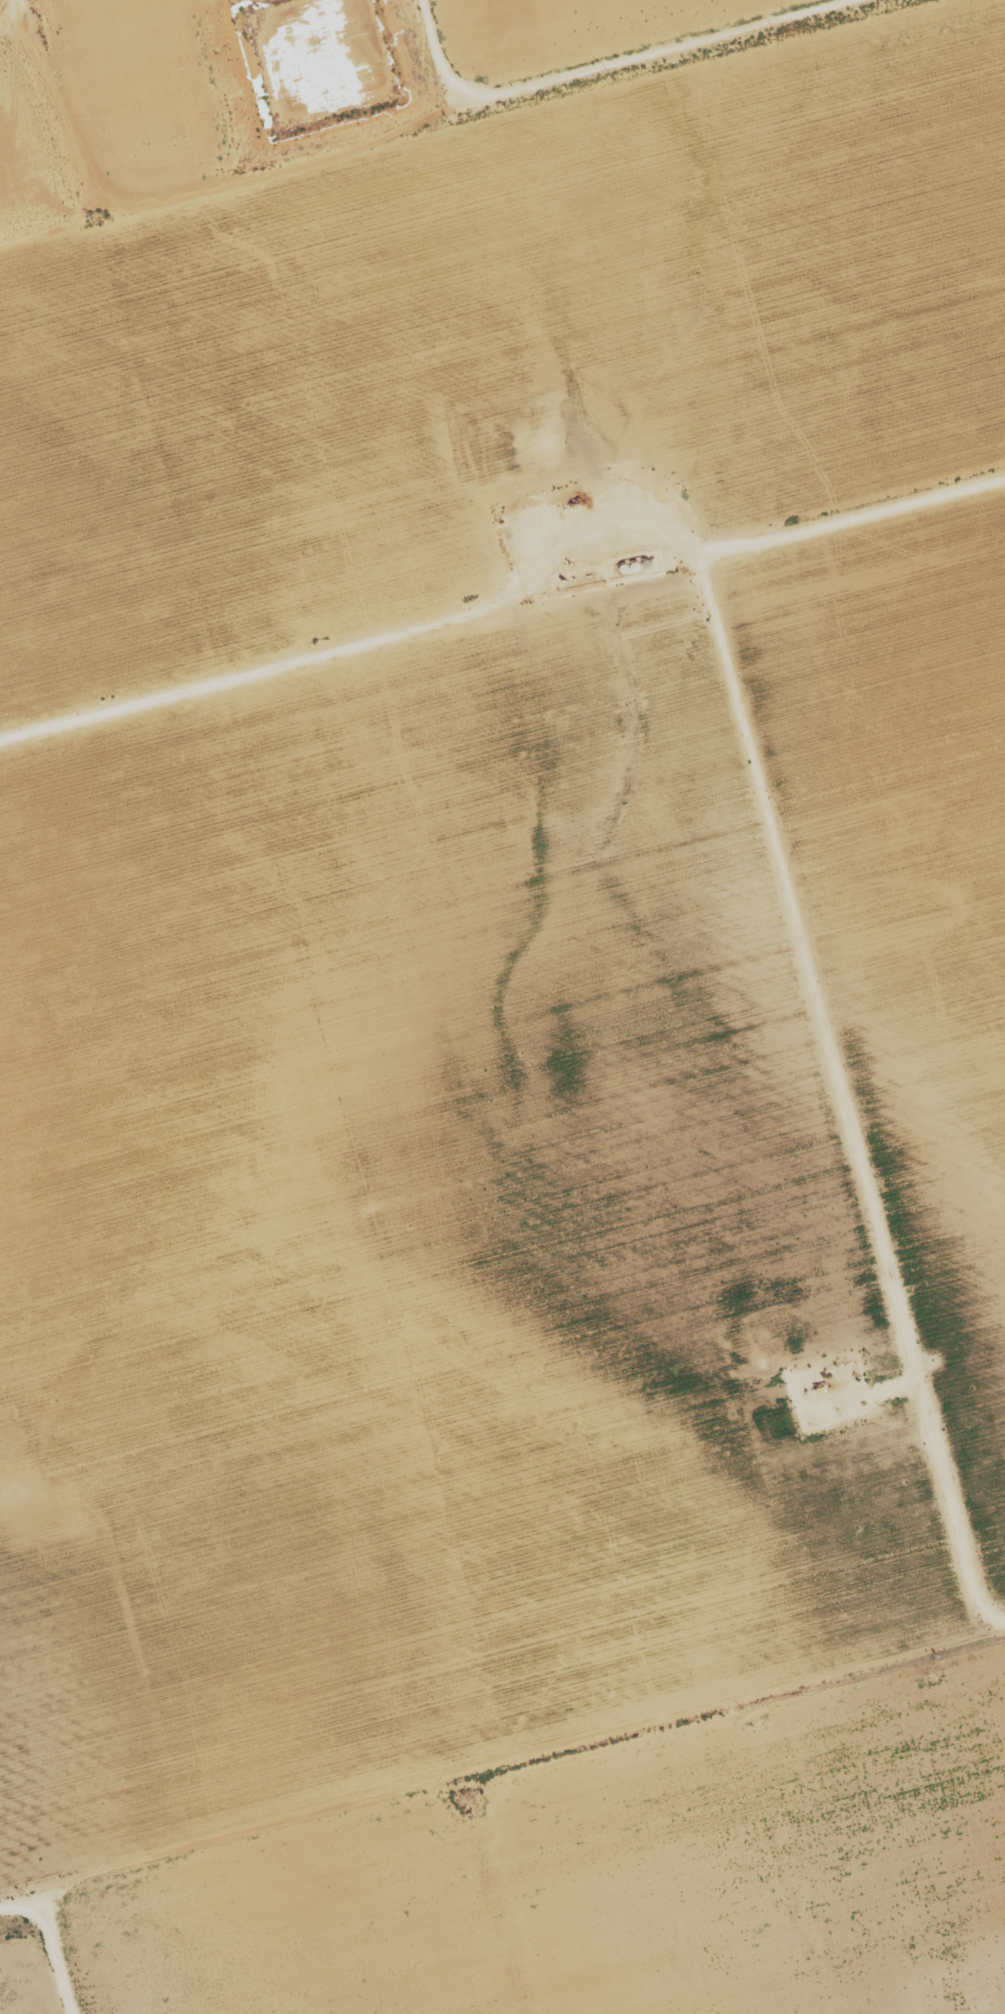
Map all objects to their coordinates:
road: (432, 121)
road: (13, 182)
road: (501, 602)
road: (215, 1878)

